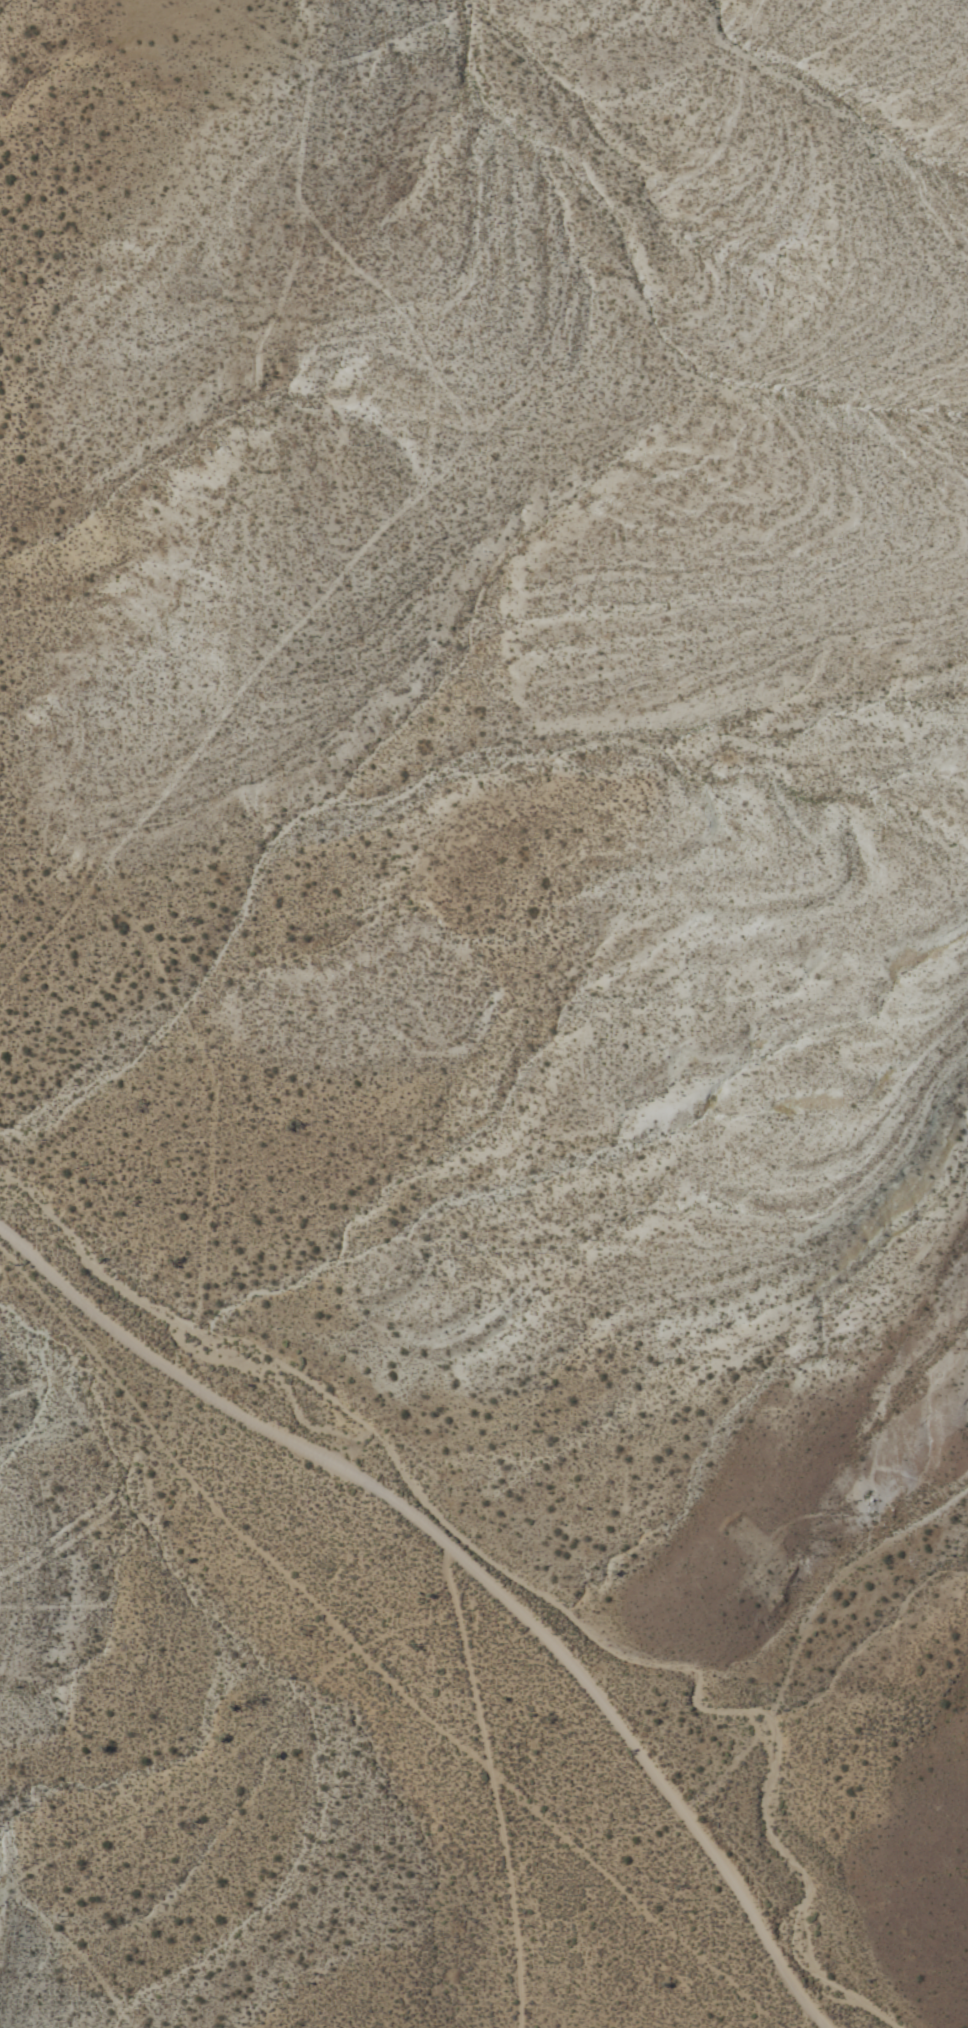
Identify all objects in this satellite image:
road: (472, 1568)

